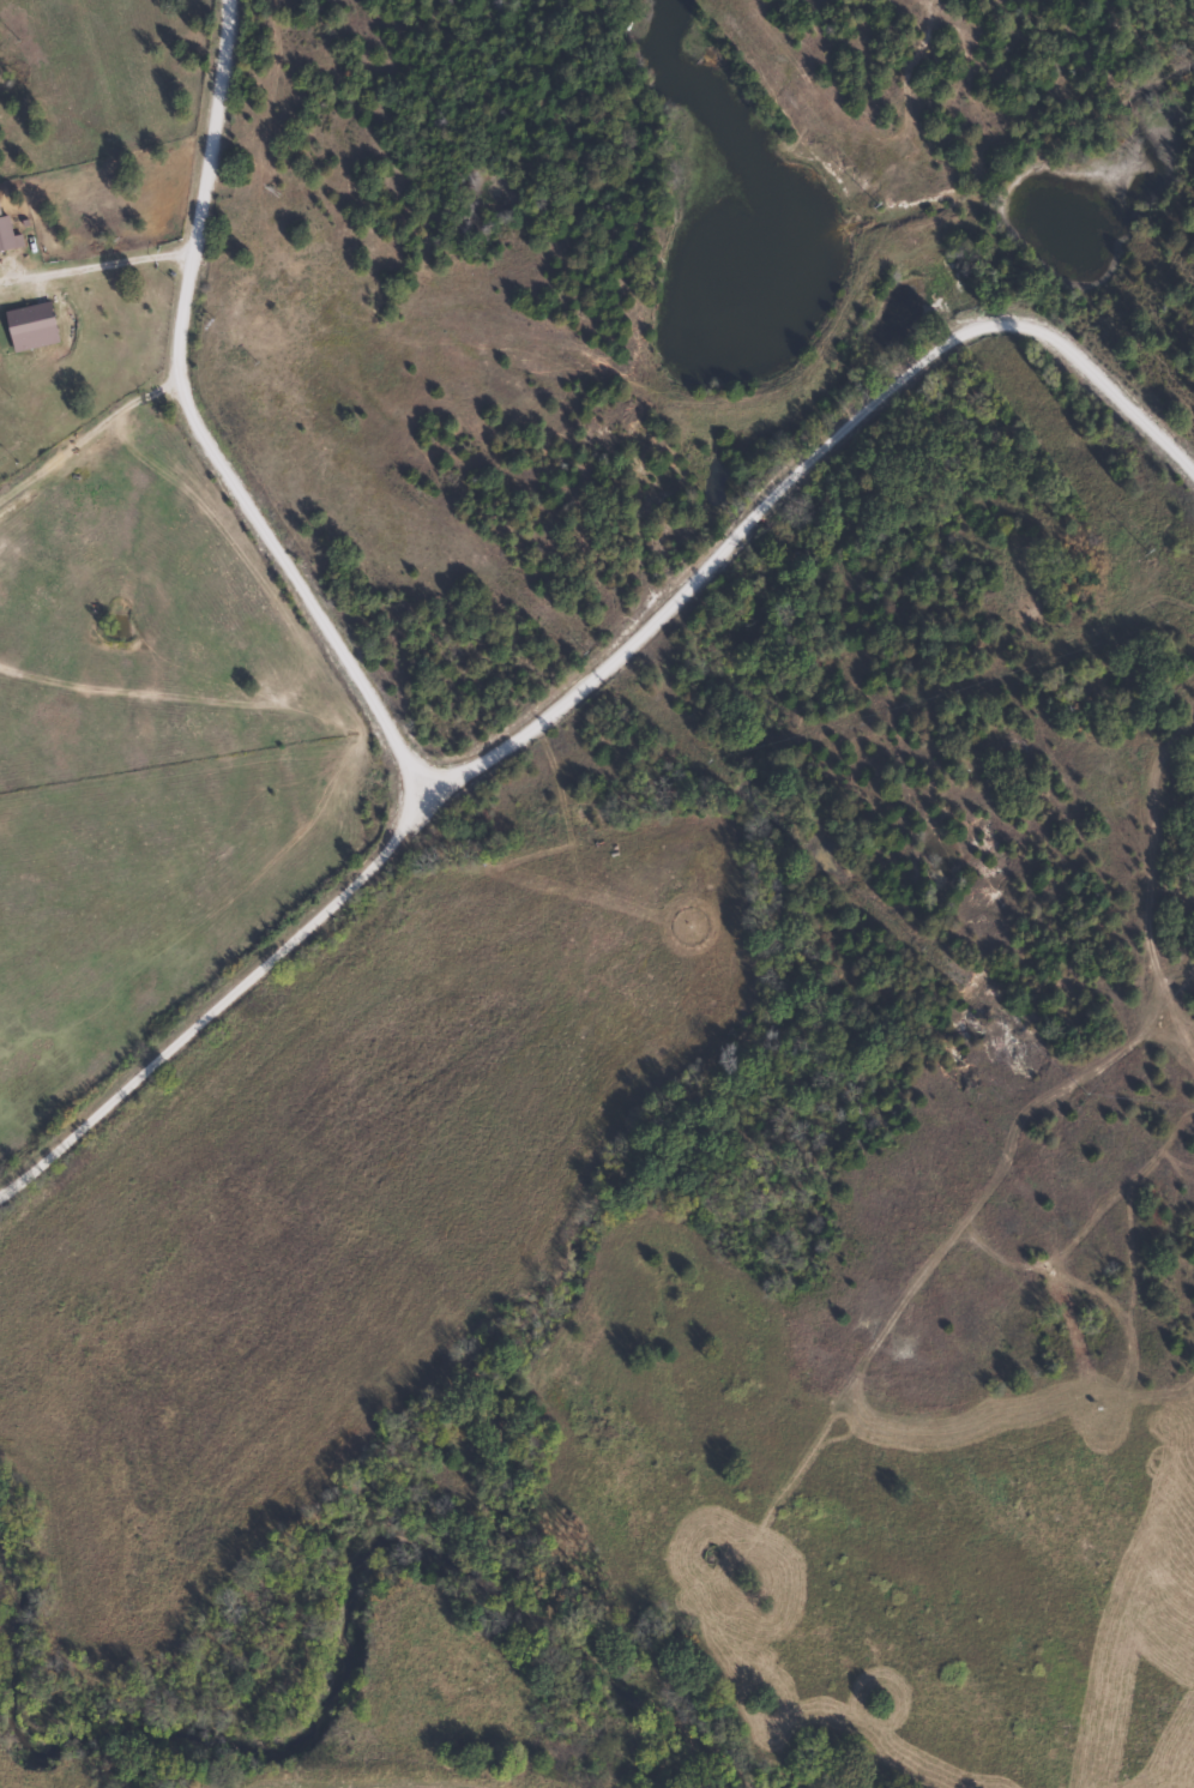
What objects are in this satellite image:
building: (7, 236)
road: (209, 432)
road: (593, 686)

